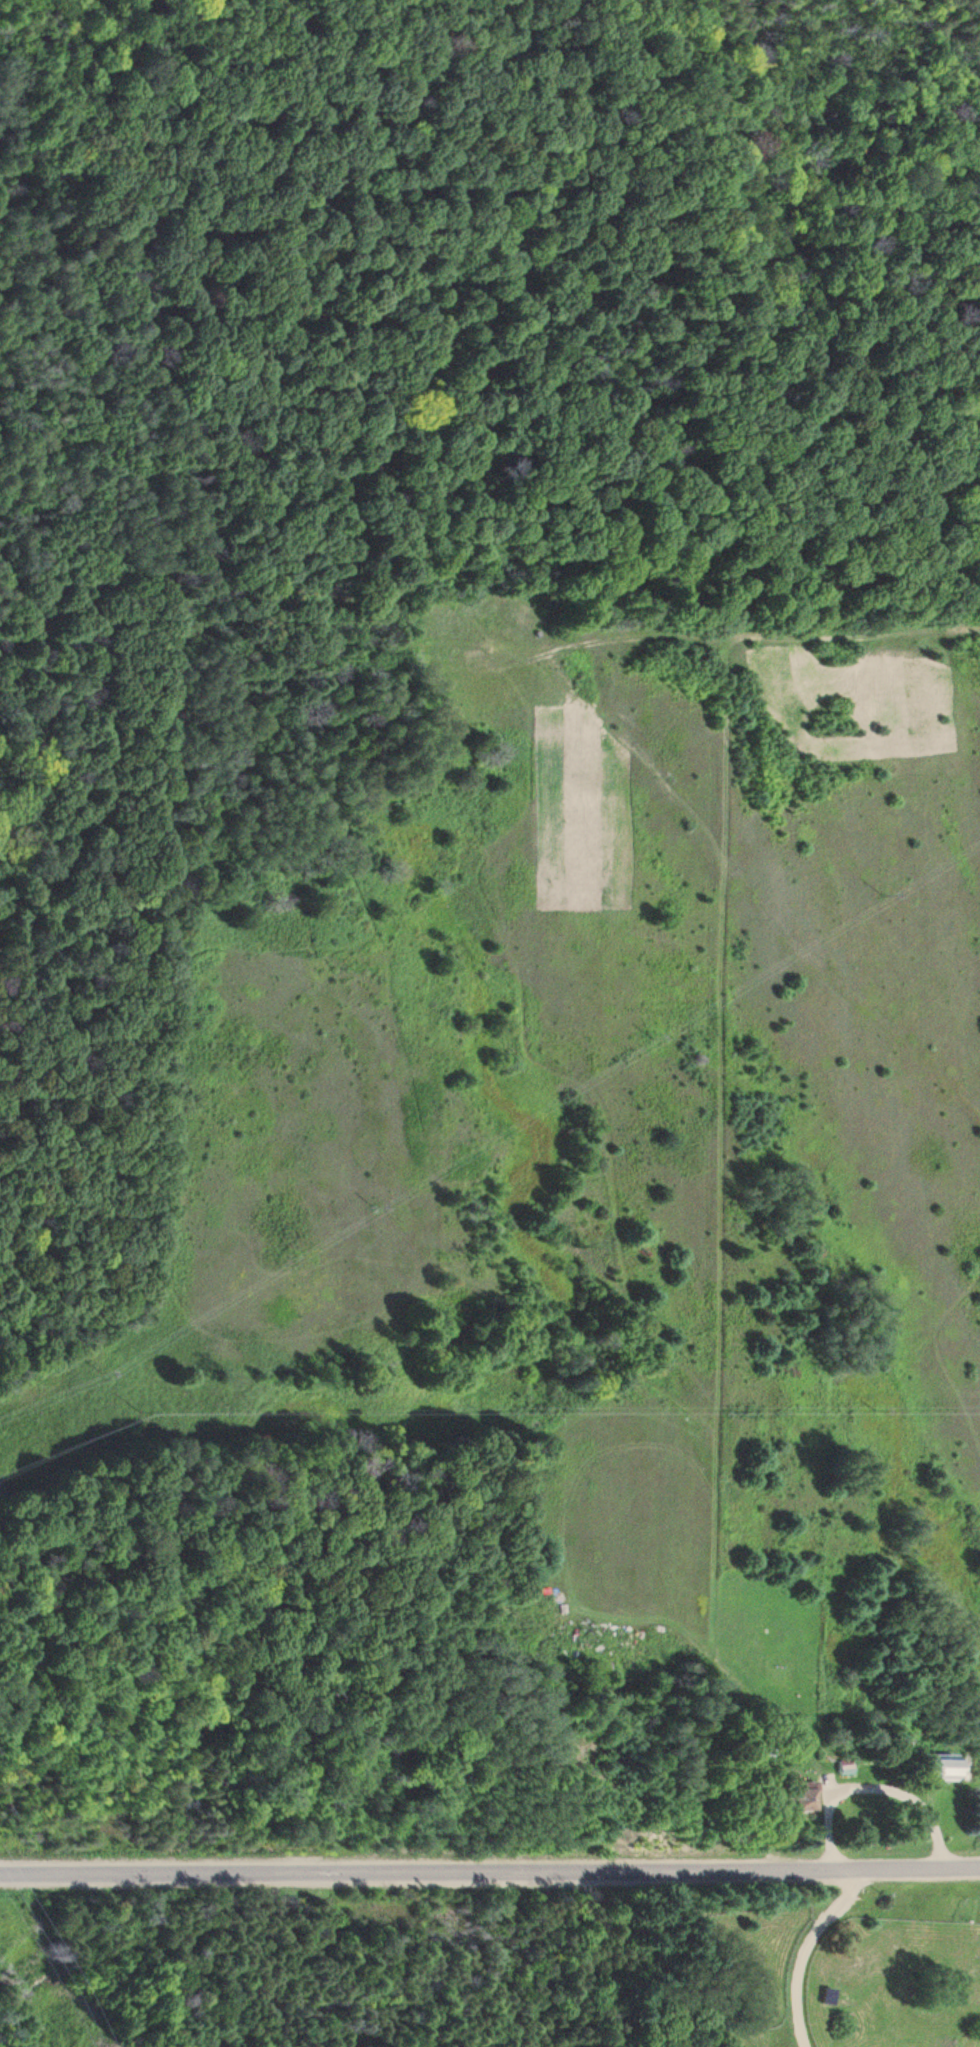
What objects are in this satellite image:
building: (929, 1767)
building: (794, 1796)
road: (490, 1875)

